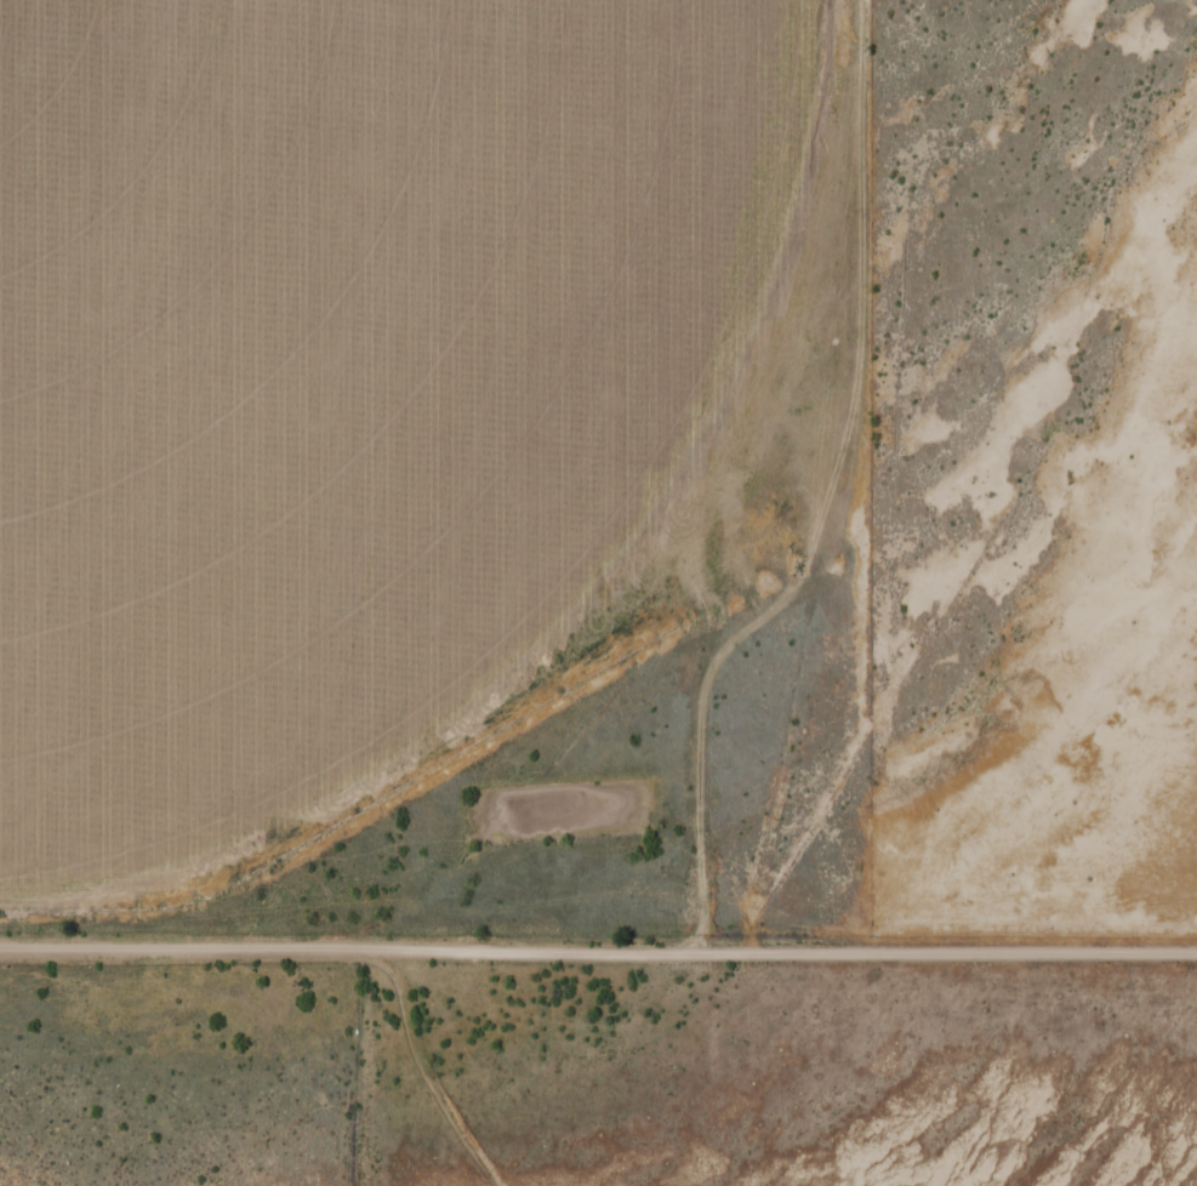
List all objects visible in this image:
crop: (342, 365)
road: (598, 943)

